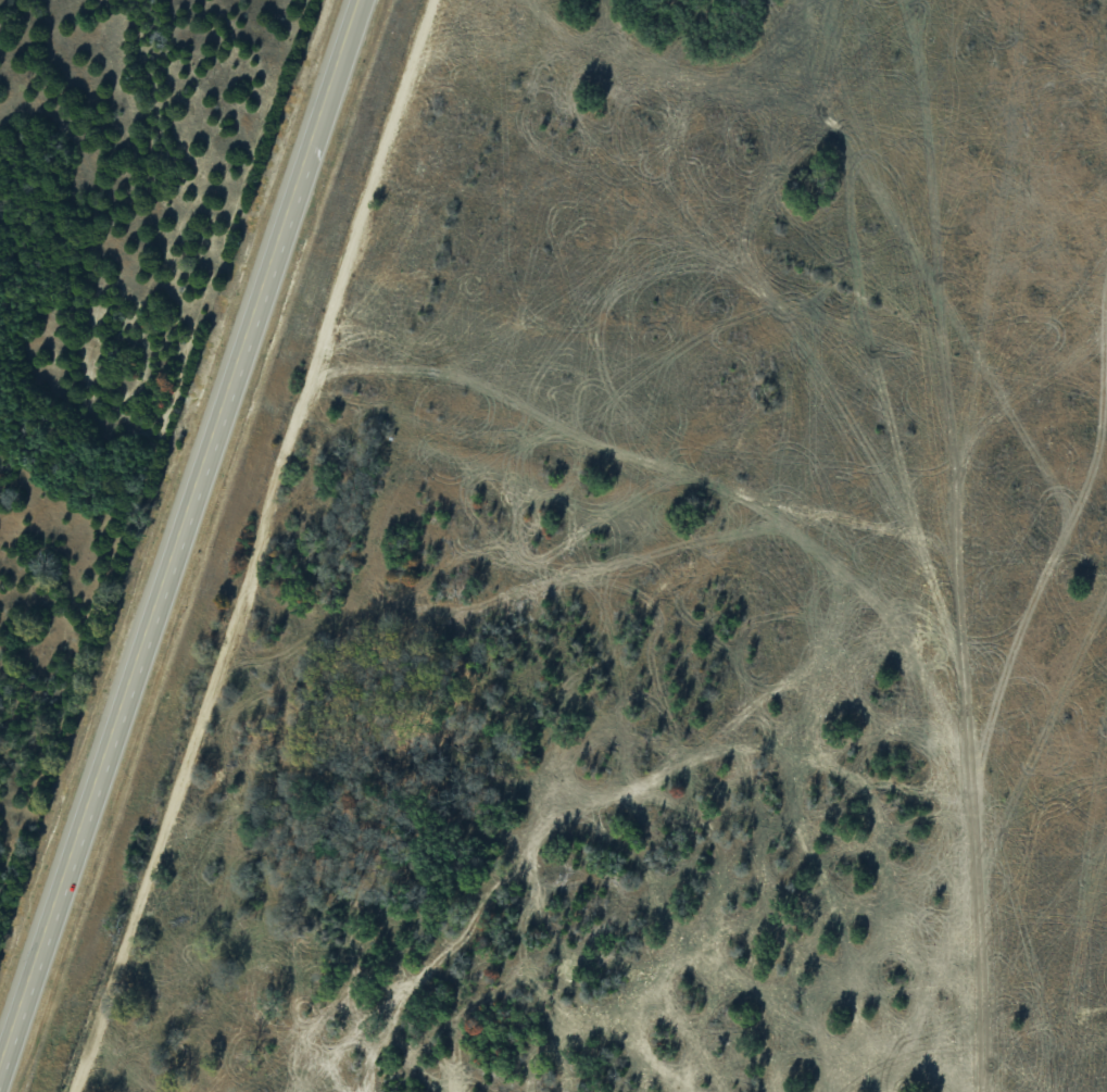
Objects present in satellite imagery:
road: (178, 526)

